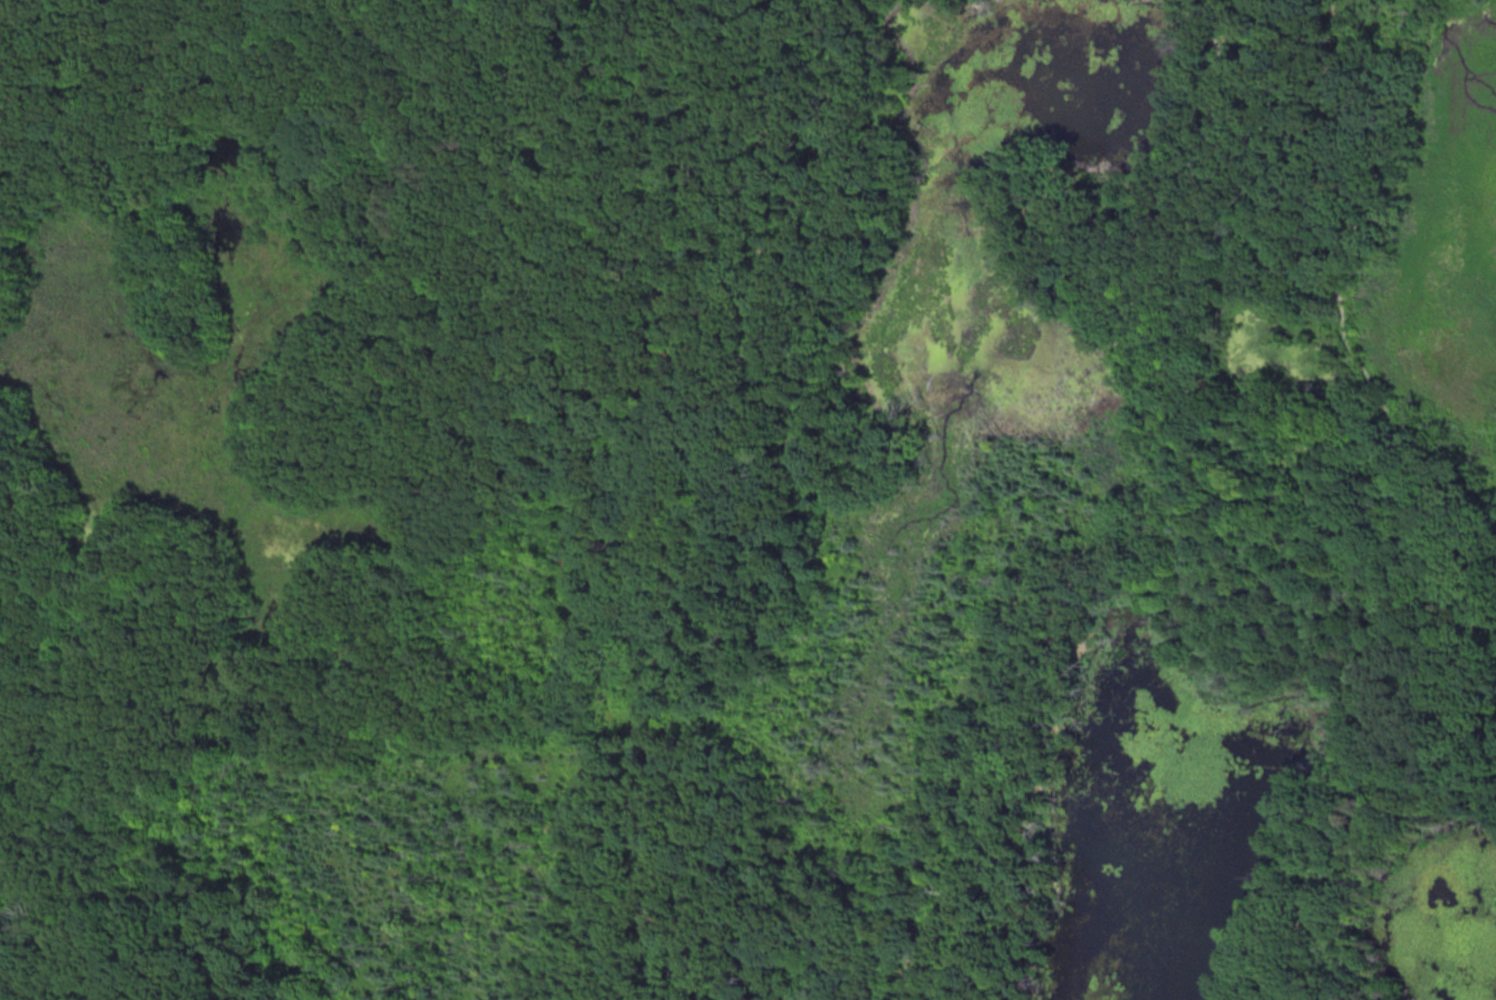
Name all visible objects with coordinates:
road: (1387, 139)
park: (748, 500)

